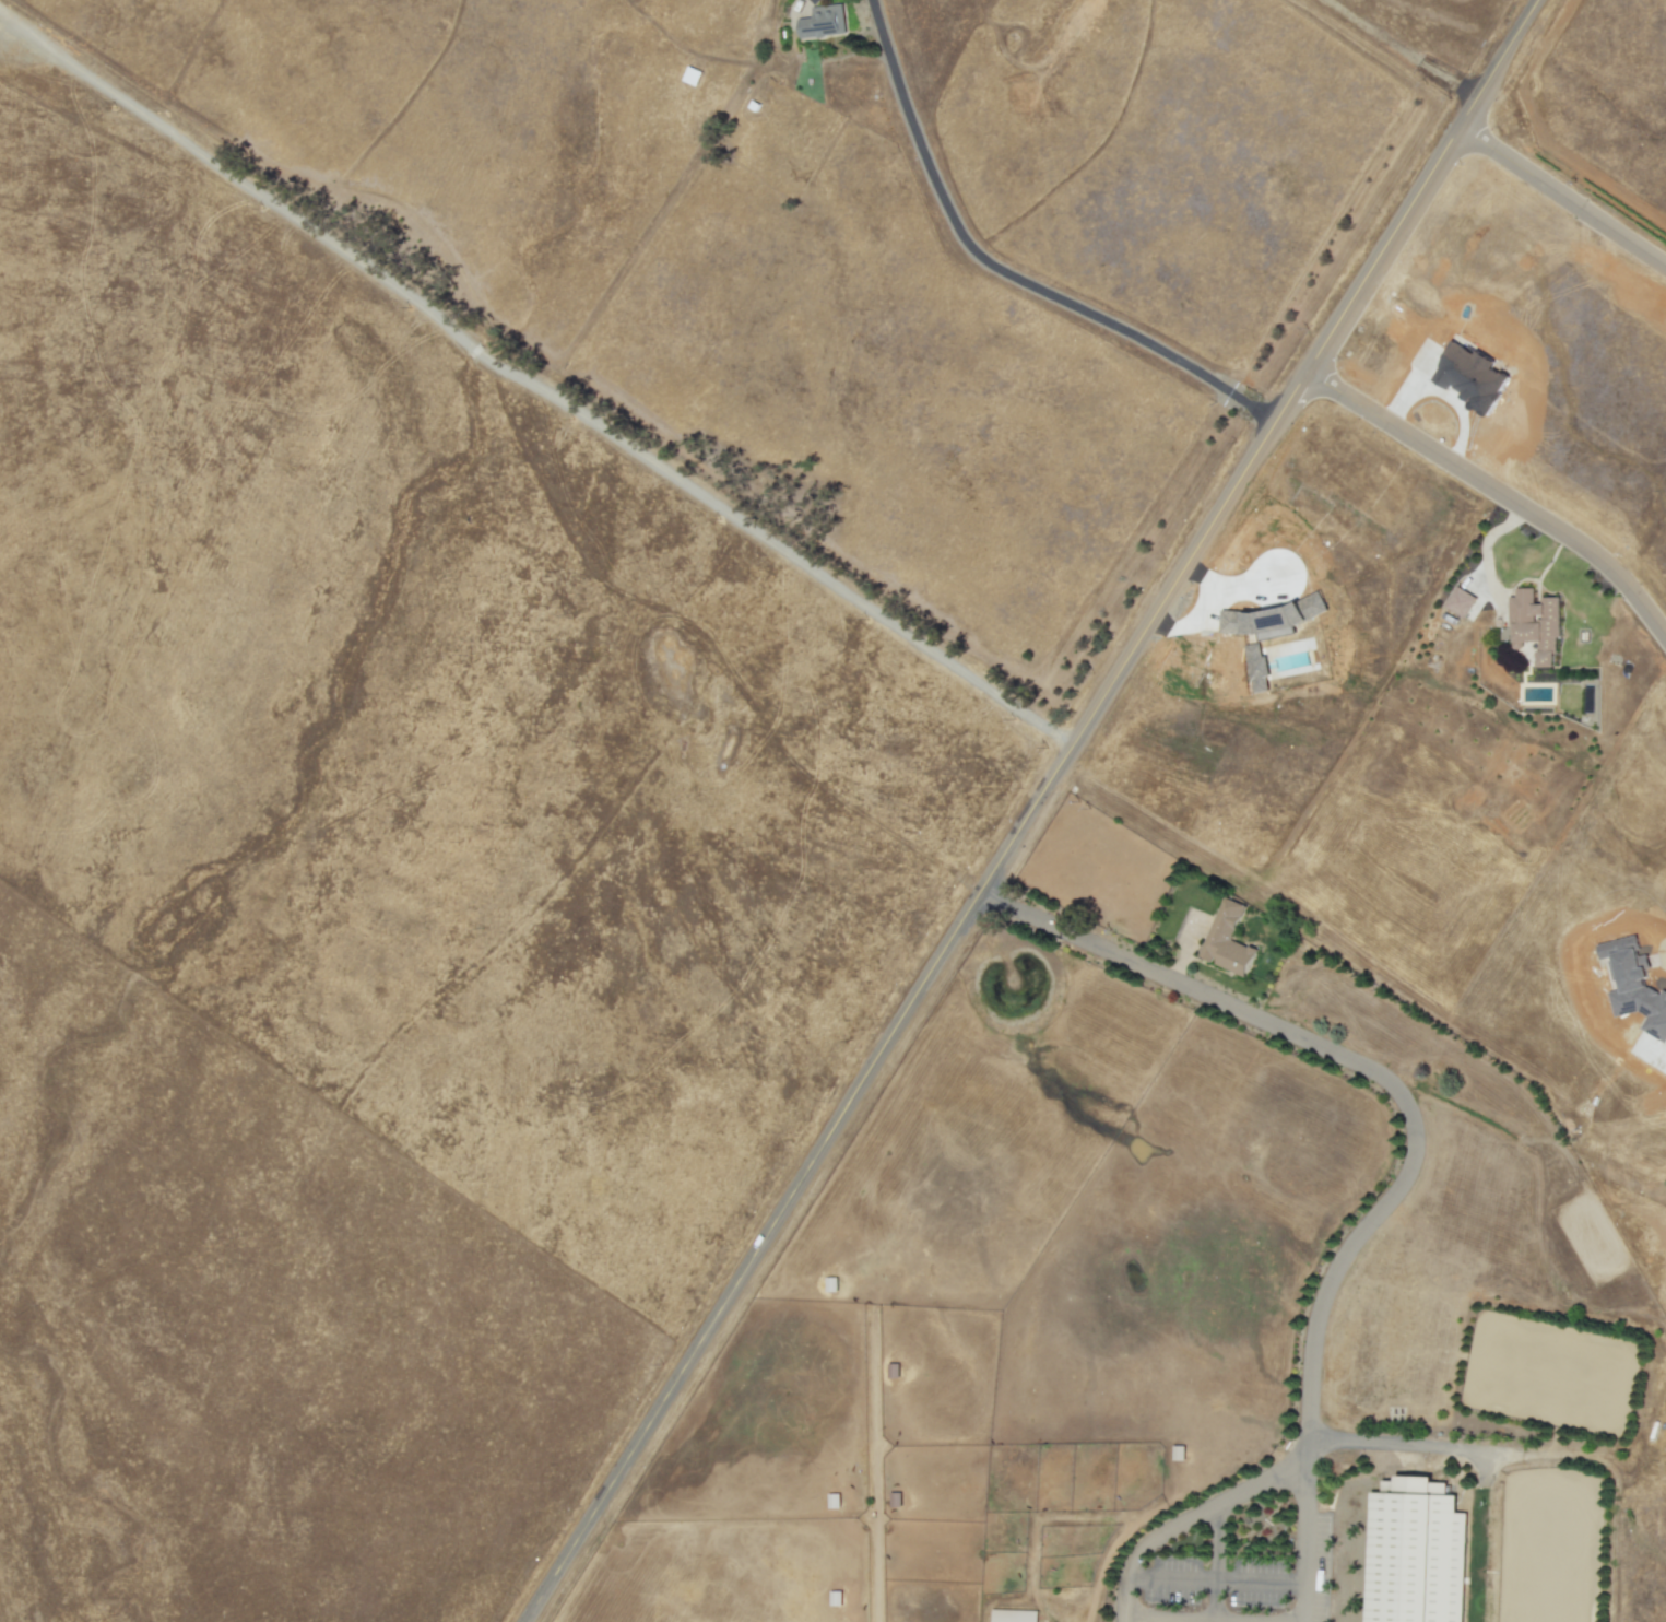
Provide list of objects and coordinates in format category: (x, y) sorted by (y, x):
building: (823, 23)
road: (1562, 196)
road: (1003, 271)
road: (530, 389)
road: (1499, 489)
road: (1487, 543)
building: (1460, 602)
building: (1273, 619)
building: (1534, 624)
building: (1256, 668)
road: (1031, 811)
building: (1227, 940)
road: (1411, 1138)
building: (1178, 1454)
road: (1228, 1494)
building: (1415, 1553)
road: (1217, 1560)
road: (1213, 1579)
building: (836, 1598)
building: (1013, 1615)

